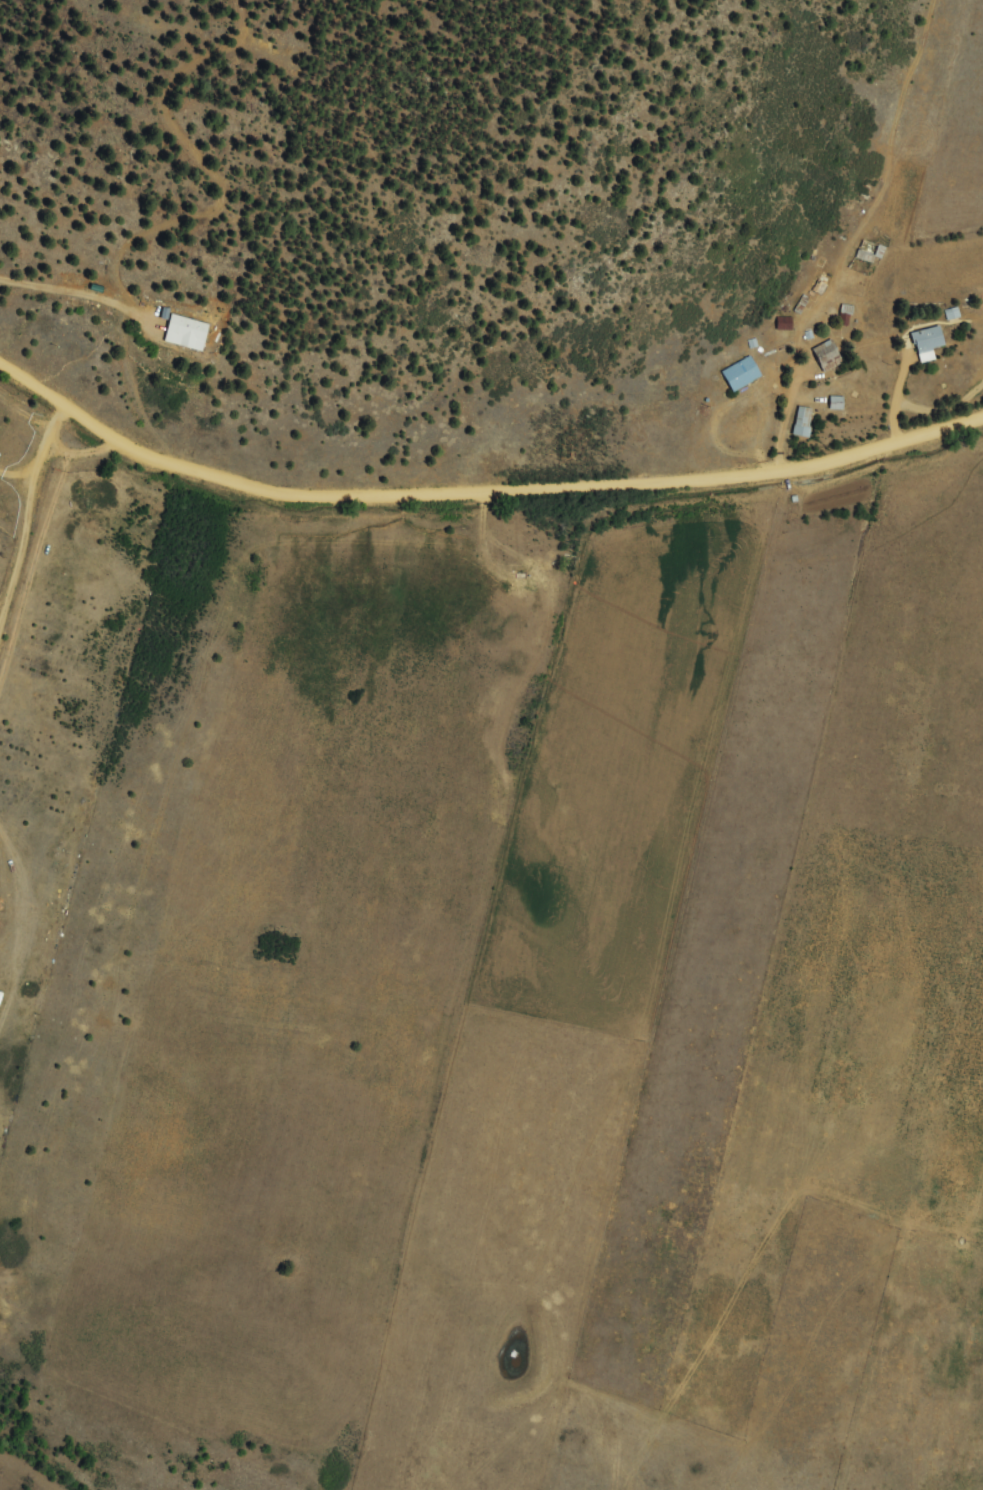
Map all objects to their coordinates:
building: (867, 256)
building: (189, 333)
building: (930, 344)
building: (830, 357)
road: (240, 372)
building: (744, 375)
road: (8, 413)
building: (804, 423)
road: (485, 495)
road: (49, 1058)

